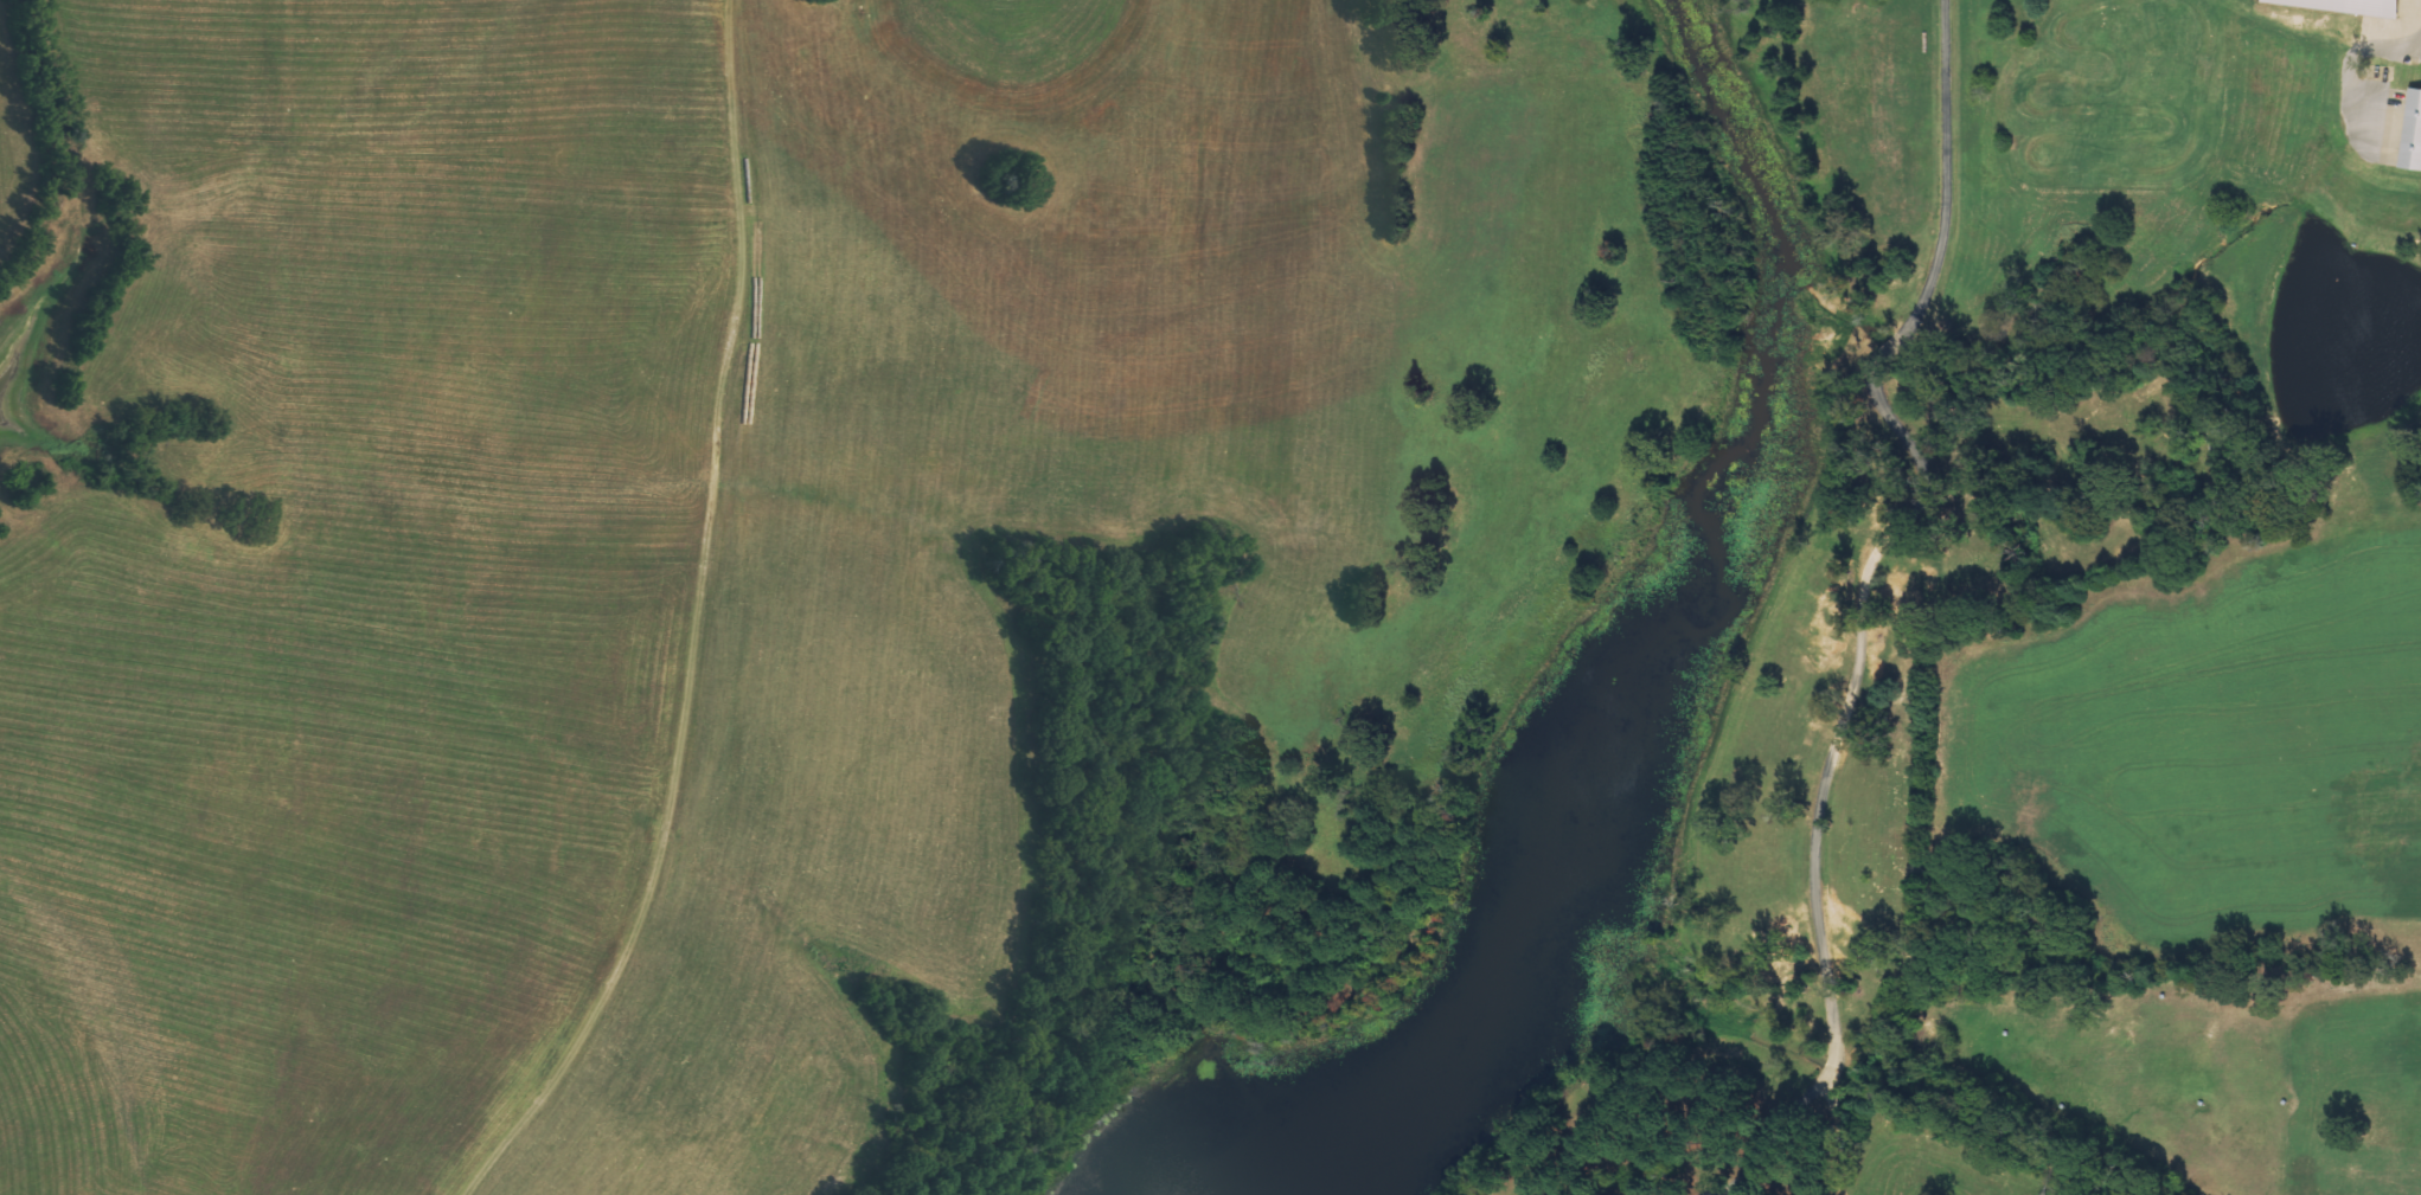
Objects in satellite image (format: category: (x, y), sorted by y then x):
building: (2346, 6)
road: (1862, 598)

